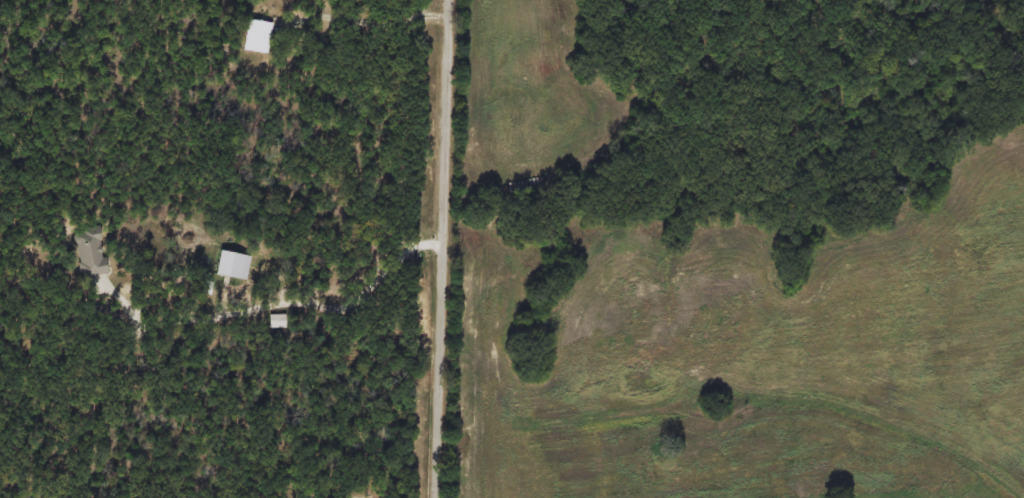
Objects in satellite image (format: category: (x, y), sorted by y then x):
road: (367, 21)
building: (258, 36)
road: (445, 249)
building: (91, 253)
building: (234, 265)
road: (281, 303)

